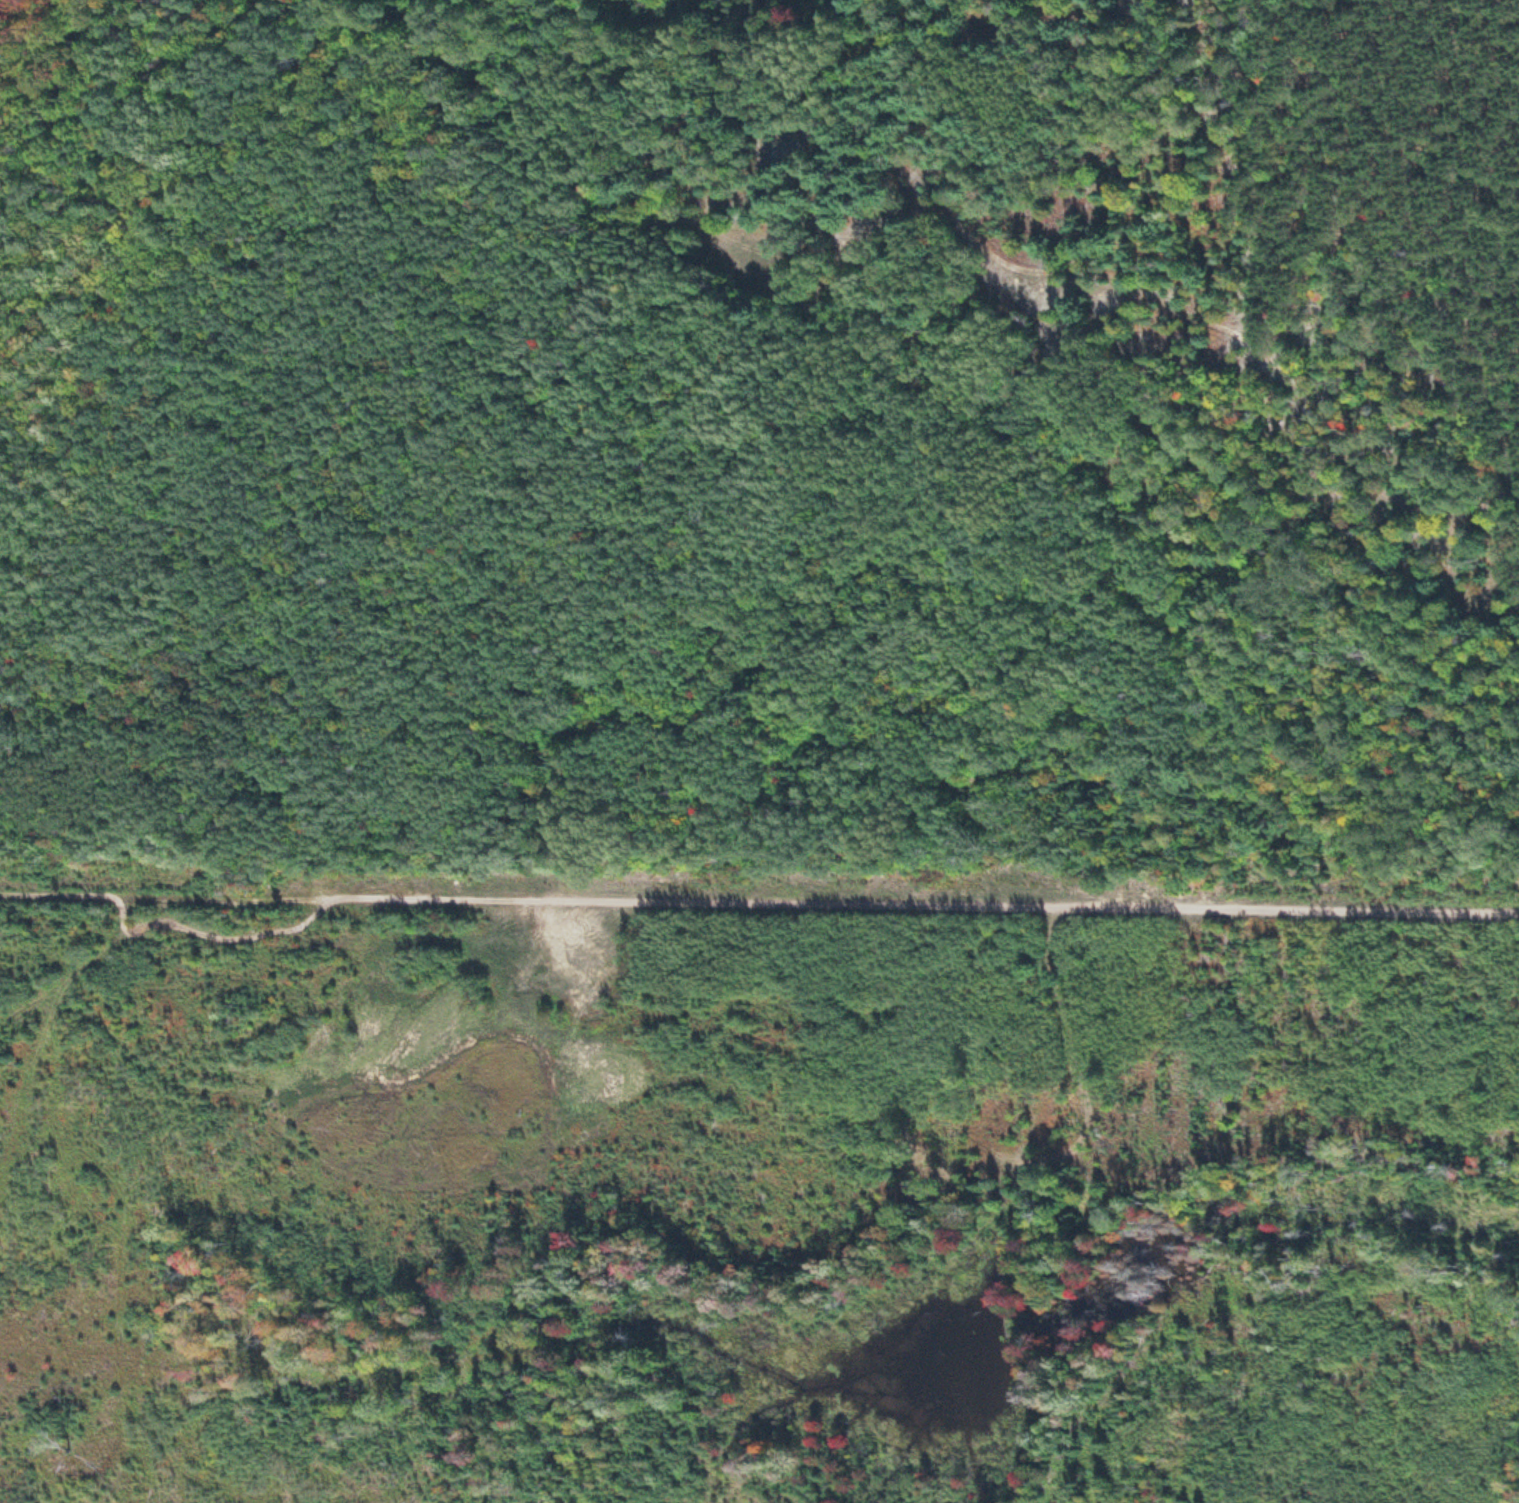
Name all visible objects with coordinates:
road: (759, 892)

